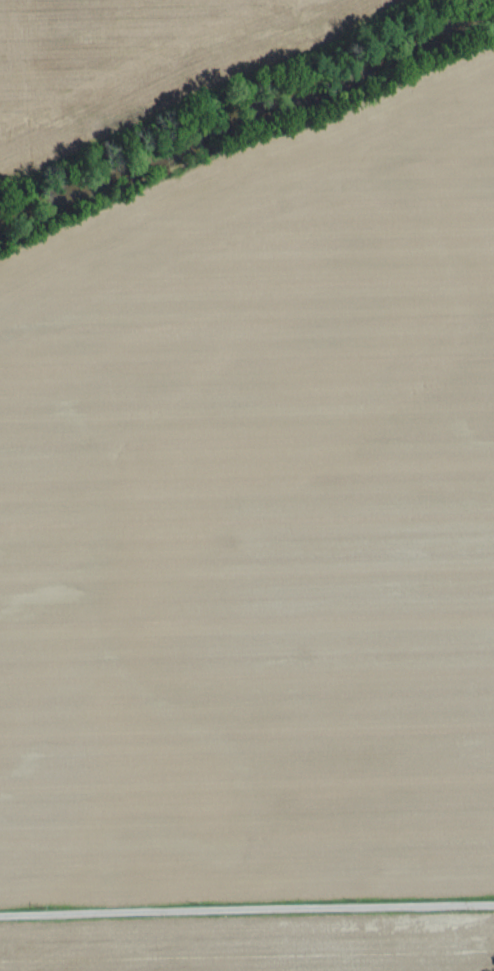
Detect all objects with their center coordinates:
road: (246, 907)

